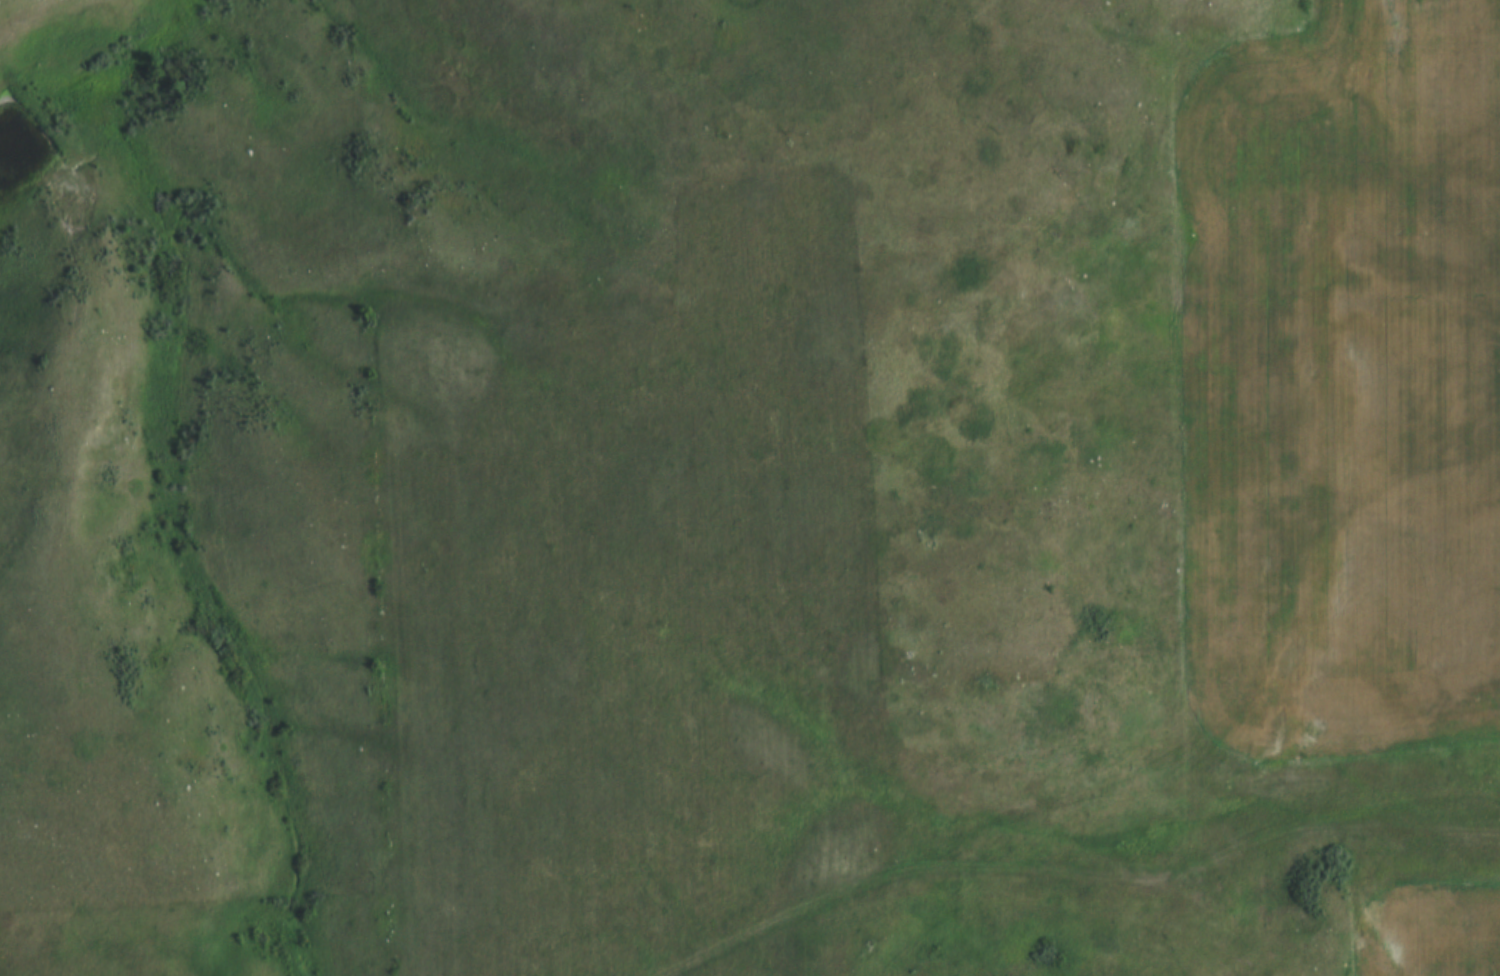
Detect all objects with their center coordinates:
road: (1069, 810)

